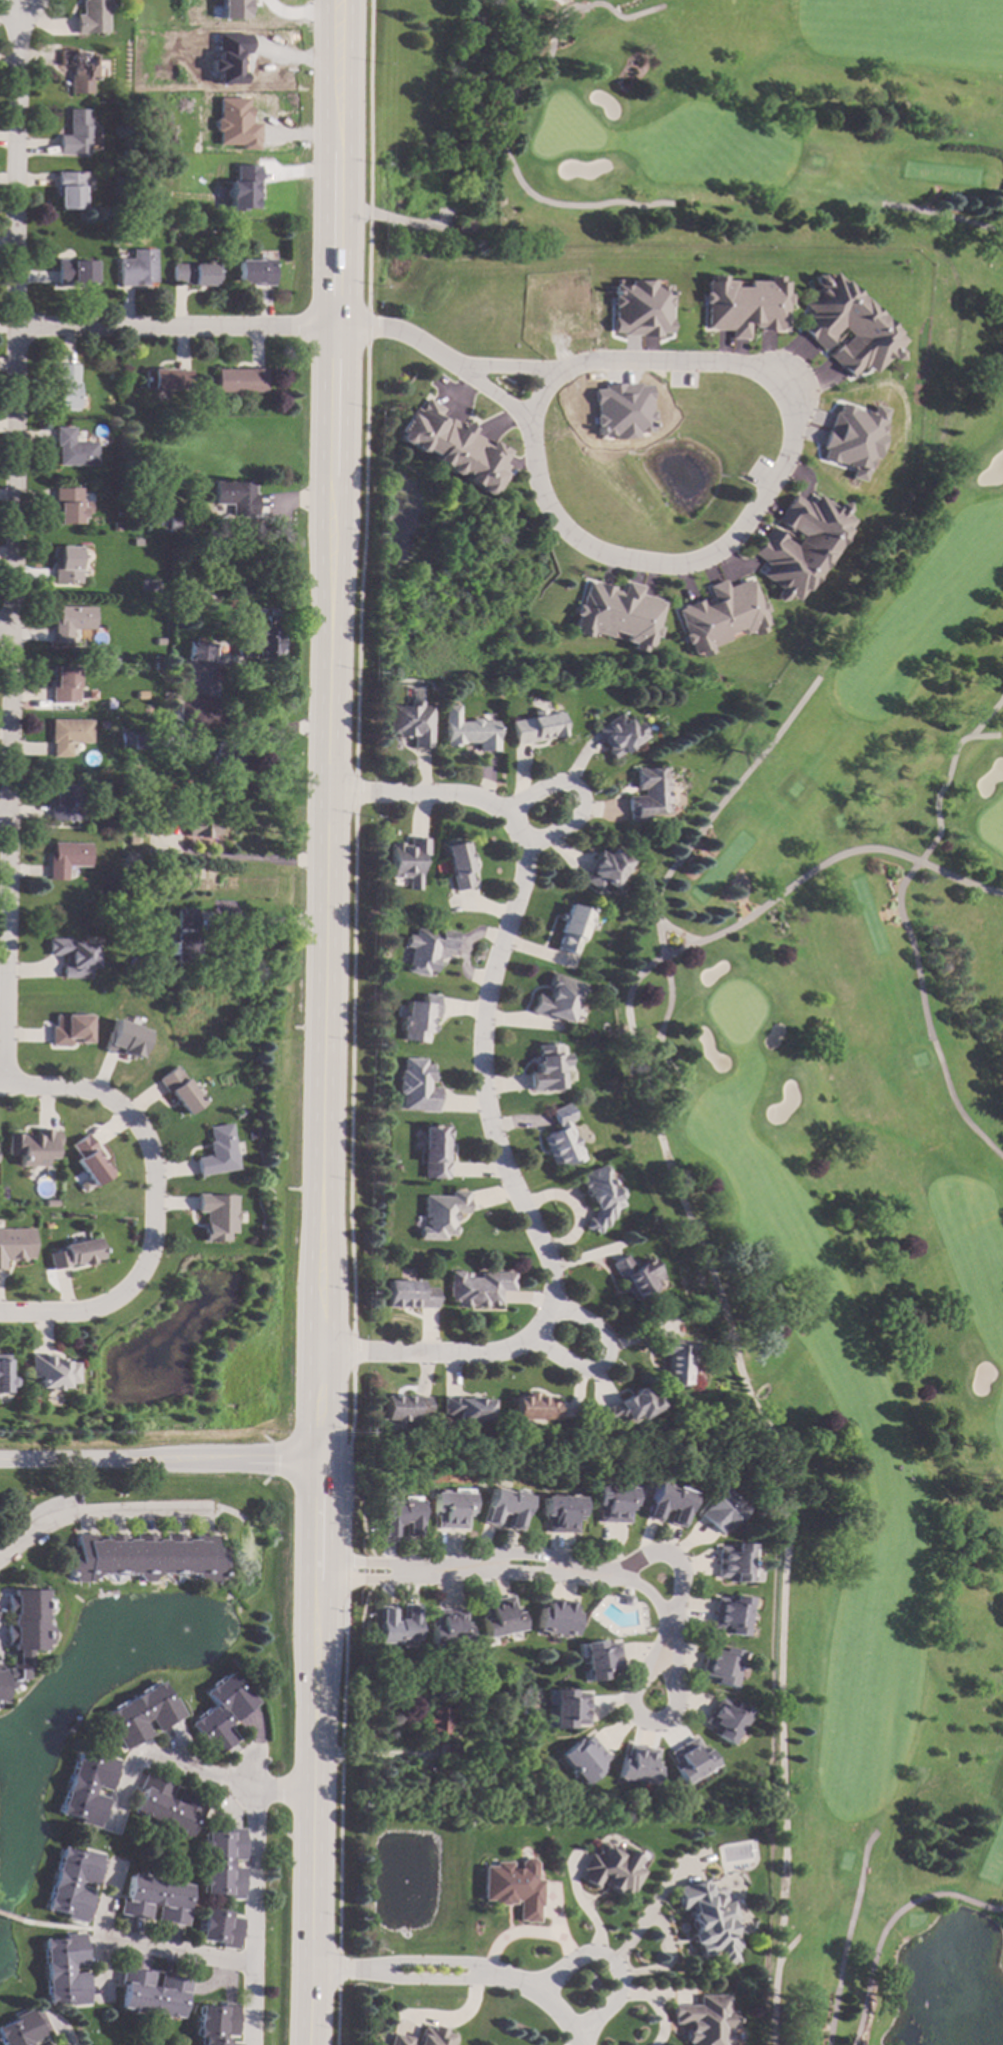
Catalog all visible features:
building: (234, 9)
building: (92, 17)
building: (229, 57)
building: (78, 70)
building: (165, 103)
road: (506, 122)
building: (235, 124)
building: (76, 134)
building: (152, 184)
building: (70, 189)
building: (242, 189)
road: (944, 215)
building: (464, 226)
building: (199, 231)
building: (284, 232)
building: (136, 269)
building: (255, 272)
building: (73, 273)
building: (194, 274)
building: (744, 306)
building: (639, 309)
road: (179, 326)
building: (847, 326)
road: (406, 332)
road: (510, 368)
building: (166, 379)
building: (240, 380)
building: (64, 389)
road: (494, 394)
road: (536, 394)
building: (620, 411)
building: (851, 438)
building: (451, 445)
building: (72, 449)
road: (763, 495)
building: (236, 498)
building: (68, 506)
building: (173, 522)
building: (115, 525)
building: (135, 542)
building: (799, 544)
road: (12, 545)
building: (65, 565)
building: (616, 613)
building: (719, 615)
building: (70, 622)
road: (5, 631)
building: (259, 640)
building: (158, 642)
building: (202, 652)
building: (159, 667)
building: (238, 673)
building: (63, 684)
building: (196, 710)
building: (411, 721)
building: (102, 725)
building: (536, 726)
road: (261, 728)
building: (468, 730)
building: (617, 734)
building: (68, 735)
road: (978, 736)
building: (125, 740)
building: (141, 741)
building: (229, 765)
building: (647, 793)
road: (578, 795)
building: (62, 804)
road: (4, 814)
building: (156, 826)
building: (199, 828)
building: (131, 840)
building: (66, 859)
road: (248, 861)
building: (407, 861)
building: (458, 865)
building: (605, 869)
road: (901, 920)
road: (273, 924)
park: (816, 927)
building: (570, 929)
building: (186, 938)
road: (695, 939)
building: (426, 948)
building: (72, 957)
road: (628, 996)
building: (557, 997)
building: (418, 1017)
road: (326, 1022)
building: (68, 1030)
building: (123, 1039)
building: (547, 1067)
building: (418, 1086)
building: (179, 1091)
road: (481, 1100)
building: (237, 1114)
building: (561, 1140)
building: (33, 1146)
building: (434, 1152)
building: (217, 1153)
building: (90, 1161)
building: (600, 1197)
road: (151, 1203)
building: (441, 1213)
building: (216, 1217)
building: (15, 1246)
building: (75, 1253)
building: (635, 1276)
building: (478, 1288)
building: (409, 1294)
building: (675, 1360)
road: (603, 1362)
building: (52, 1370)
building: (4, 1375)
building: (629, 1405)
building: (403, 1406)
building: (466, 1407)
building: (532, 1407)
road: (158, 1461)
road: (777, 1468)
building: (667, 1502)
building: (611, 1503)
building: (504, 1506)
road: (95, 1509)
building: (450, 1510)
building: (719, 1510)
building: (559, 1513)
building: (399, 1516)
building: (144, 1557)
road: (665, 1562)
building: (733, 1562)
road: (538, 1566)
building: (730, 1614)
building: (499, 1617)
building: (556, 1617)
building: (397, 1624)
building: (449, 1627)
building: (23, 1633)
building: (600, 1659)
building: (721, 1665)
building: (570, 1709)
building: (221, 1714)
building: (141, 1715)
building: (726, 1719)
building: (440, 1734)
road: (371, 1755)
building: (583, 1758)
building: (691, 1760)
building: (639, 1764)
road: (188, 1770)
building: (486, 1771)
building: (85, 1789)
building: (167, 1806)
building: (222, 1864)
building: (612, 1868)
building: (71, 1883)
building: (515, 1887)
building: (154, 1900)
road: (254, 1900)
road: (10, 1918)
building: (709, 1921)
road: (887, 1923)
road: (58, 1926)
building: (219, 1928)
road: (96, 1931)
road: (847, 1936)
road: (788, 1948)
road: (174, 1950)
road: (617, 1964)
building: (64, 1970)
road: (462, 1974)
building: (152, 1993)
road: (663, 2006)
building: (705, 2020)
building: (40, 2021)
building: (216, 2023)
road: (56, 2028)
building: (19, 2029)
building: (424, 2037)
building: (45, 2044)

